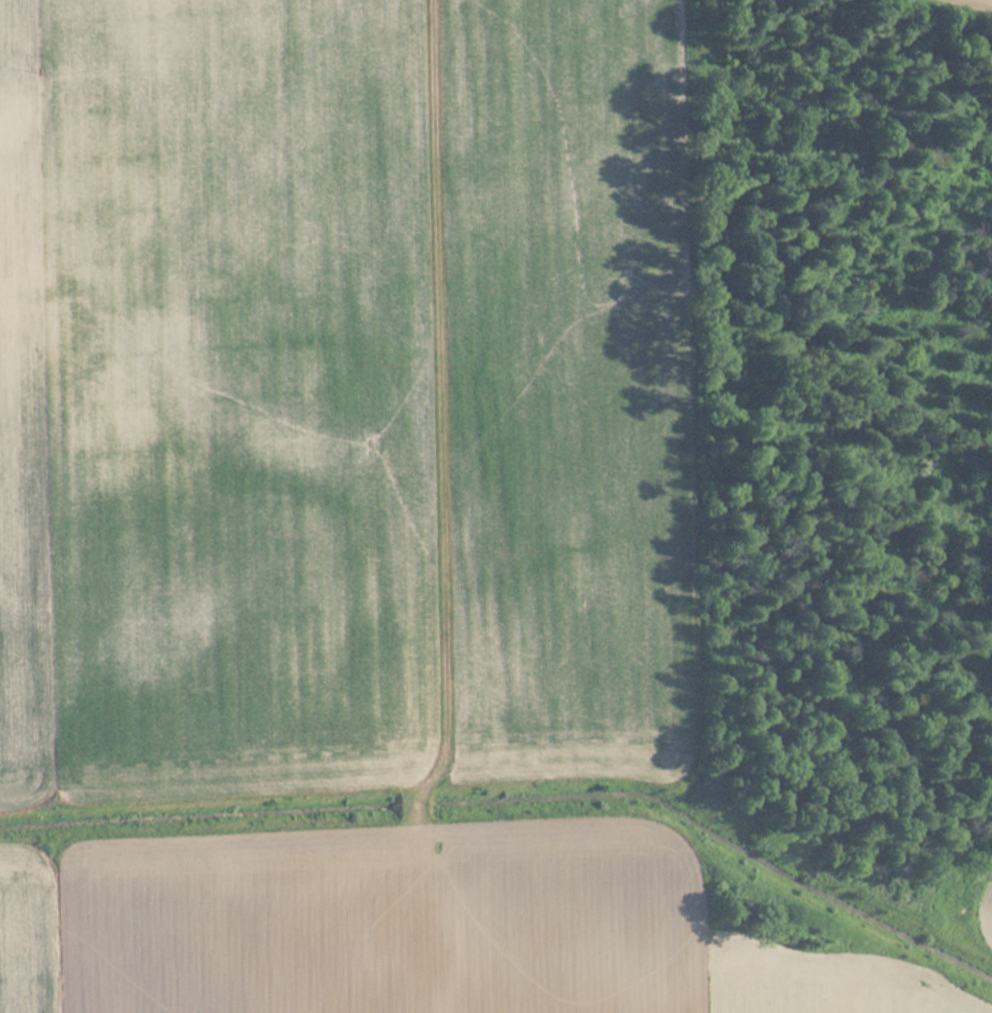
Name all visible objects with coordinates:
road: (941, 823)

